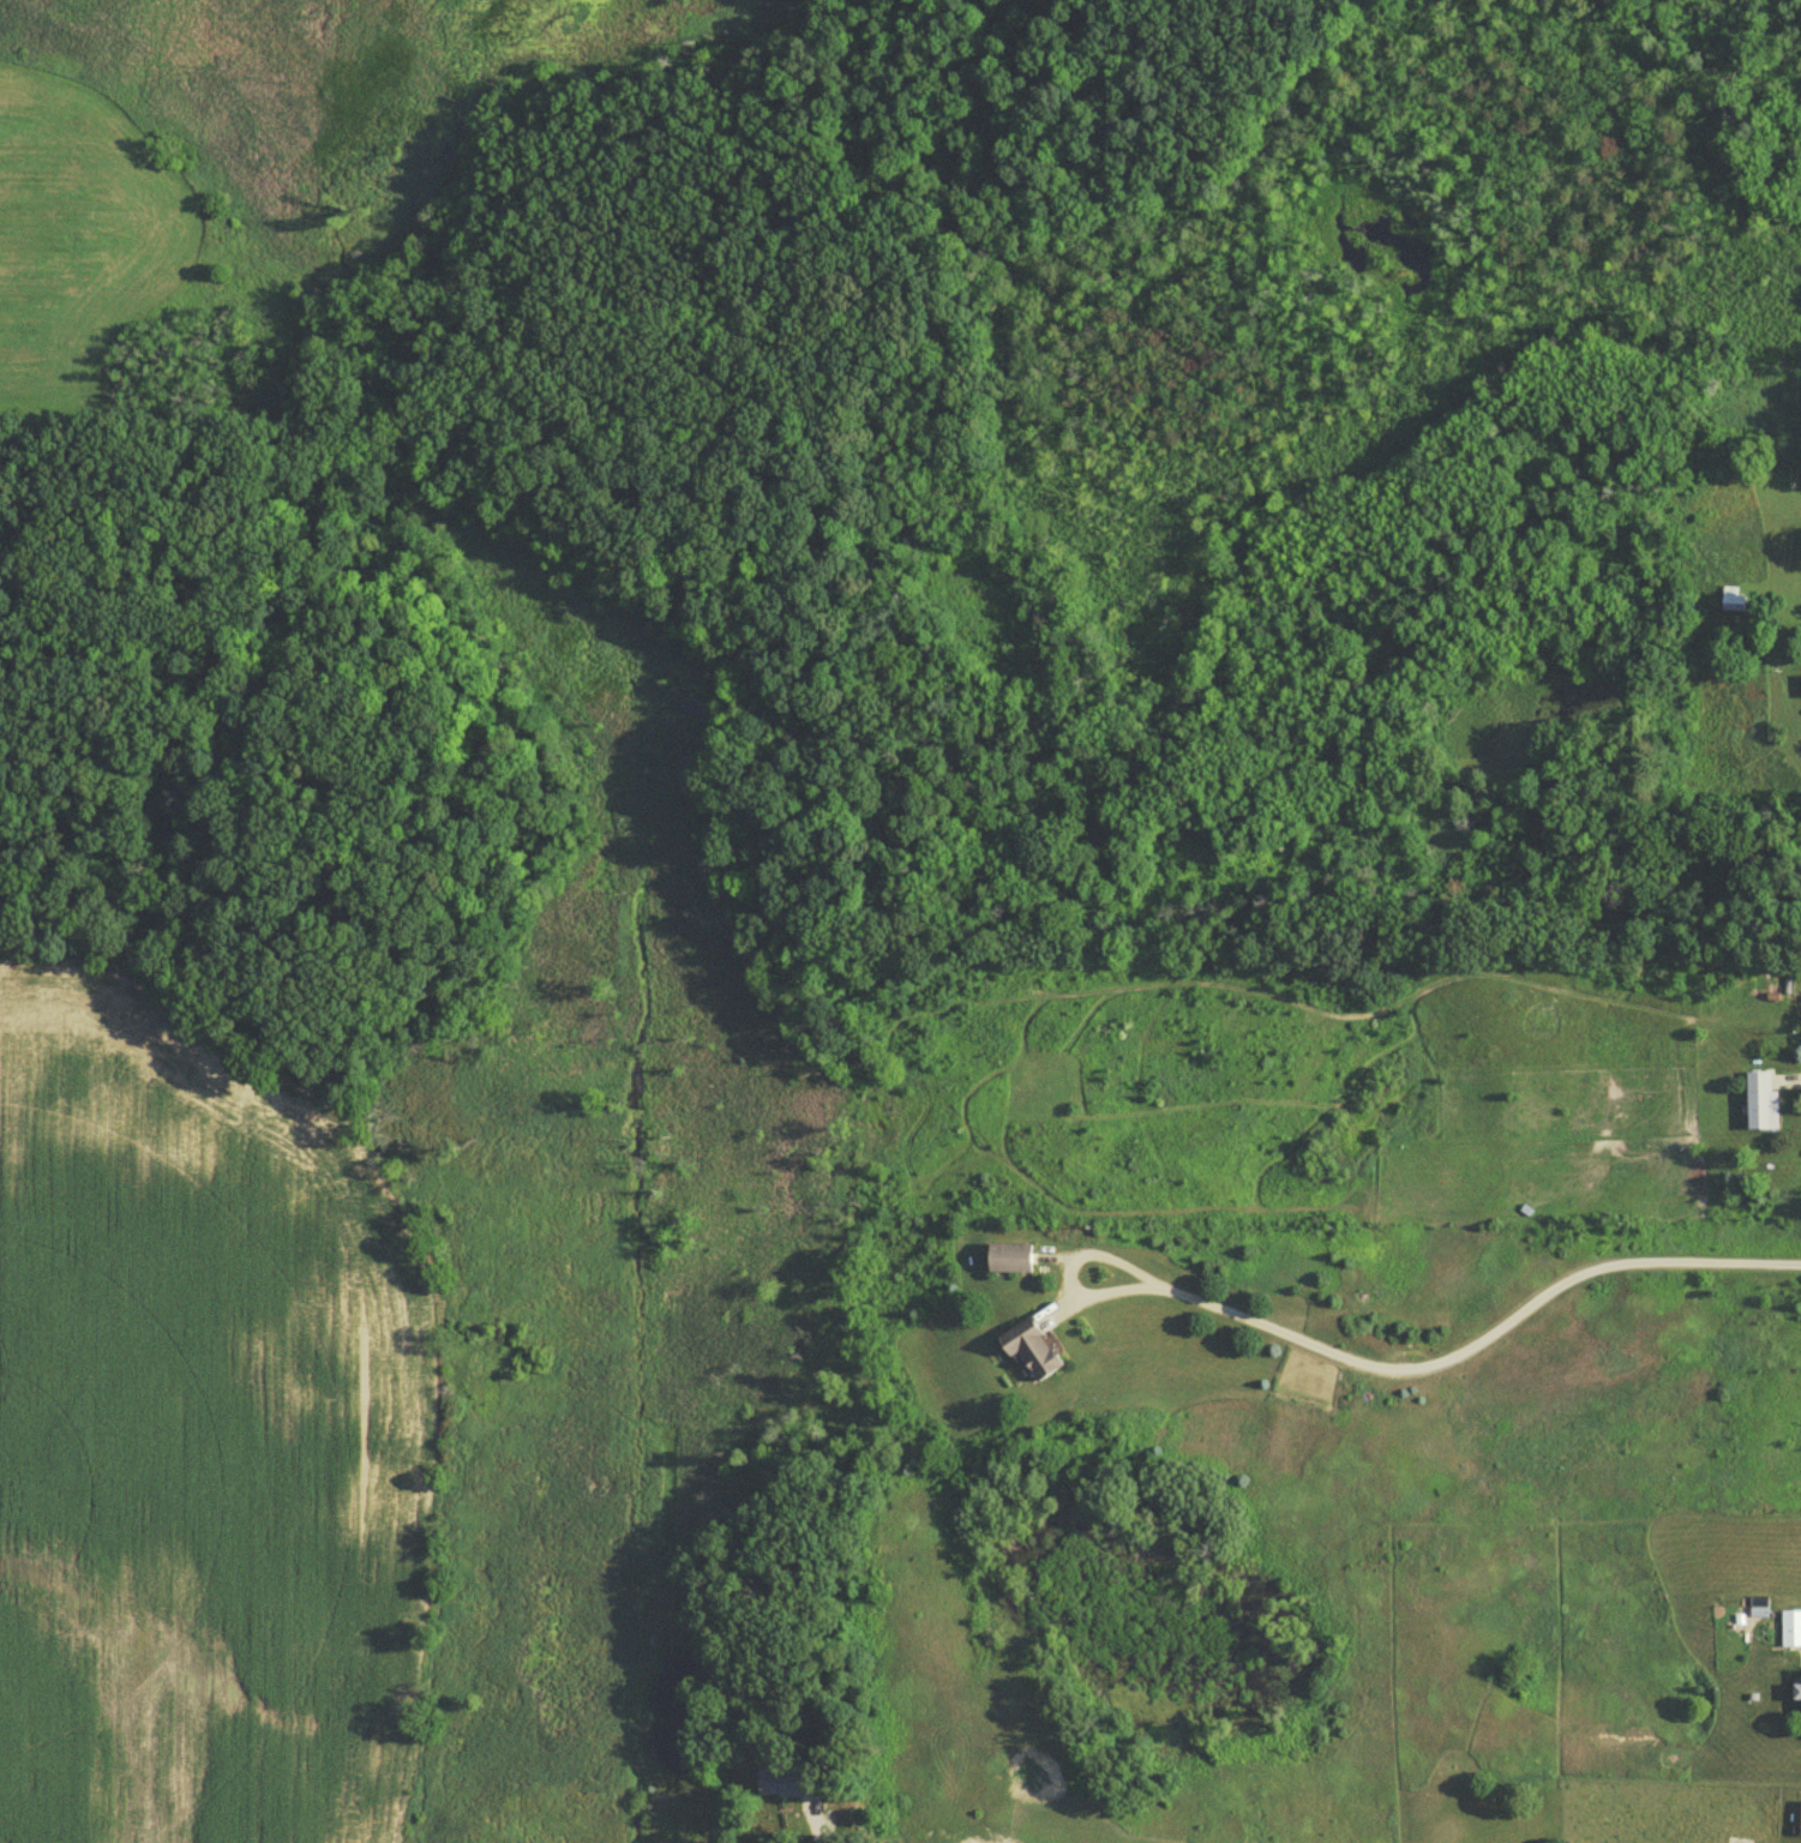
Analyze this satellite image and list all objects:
building: (1800, 692)
building: (1758, 1106)
building: (1005, 1261)
road: (1067, 1265)
road: (1478, 1334)
building: (1025, 1353)
building: (1790, 1634)
building: (1795, 1698)
building: (763, 1791)
road: (803, 1820)
building: (1799, 1824)

